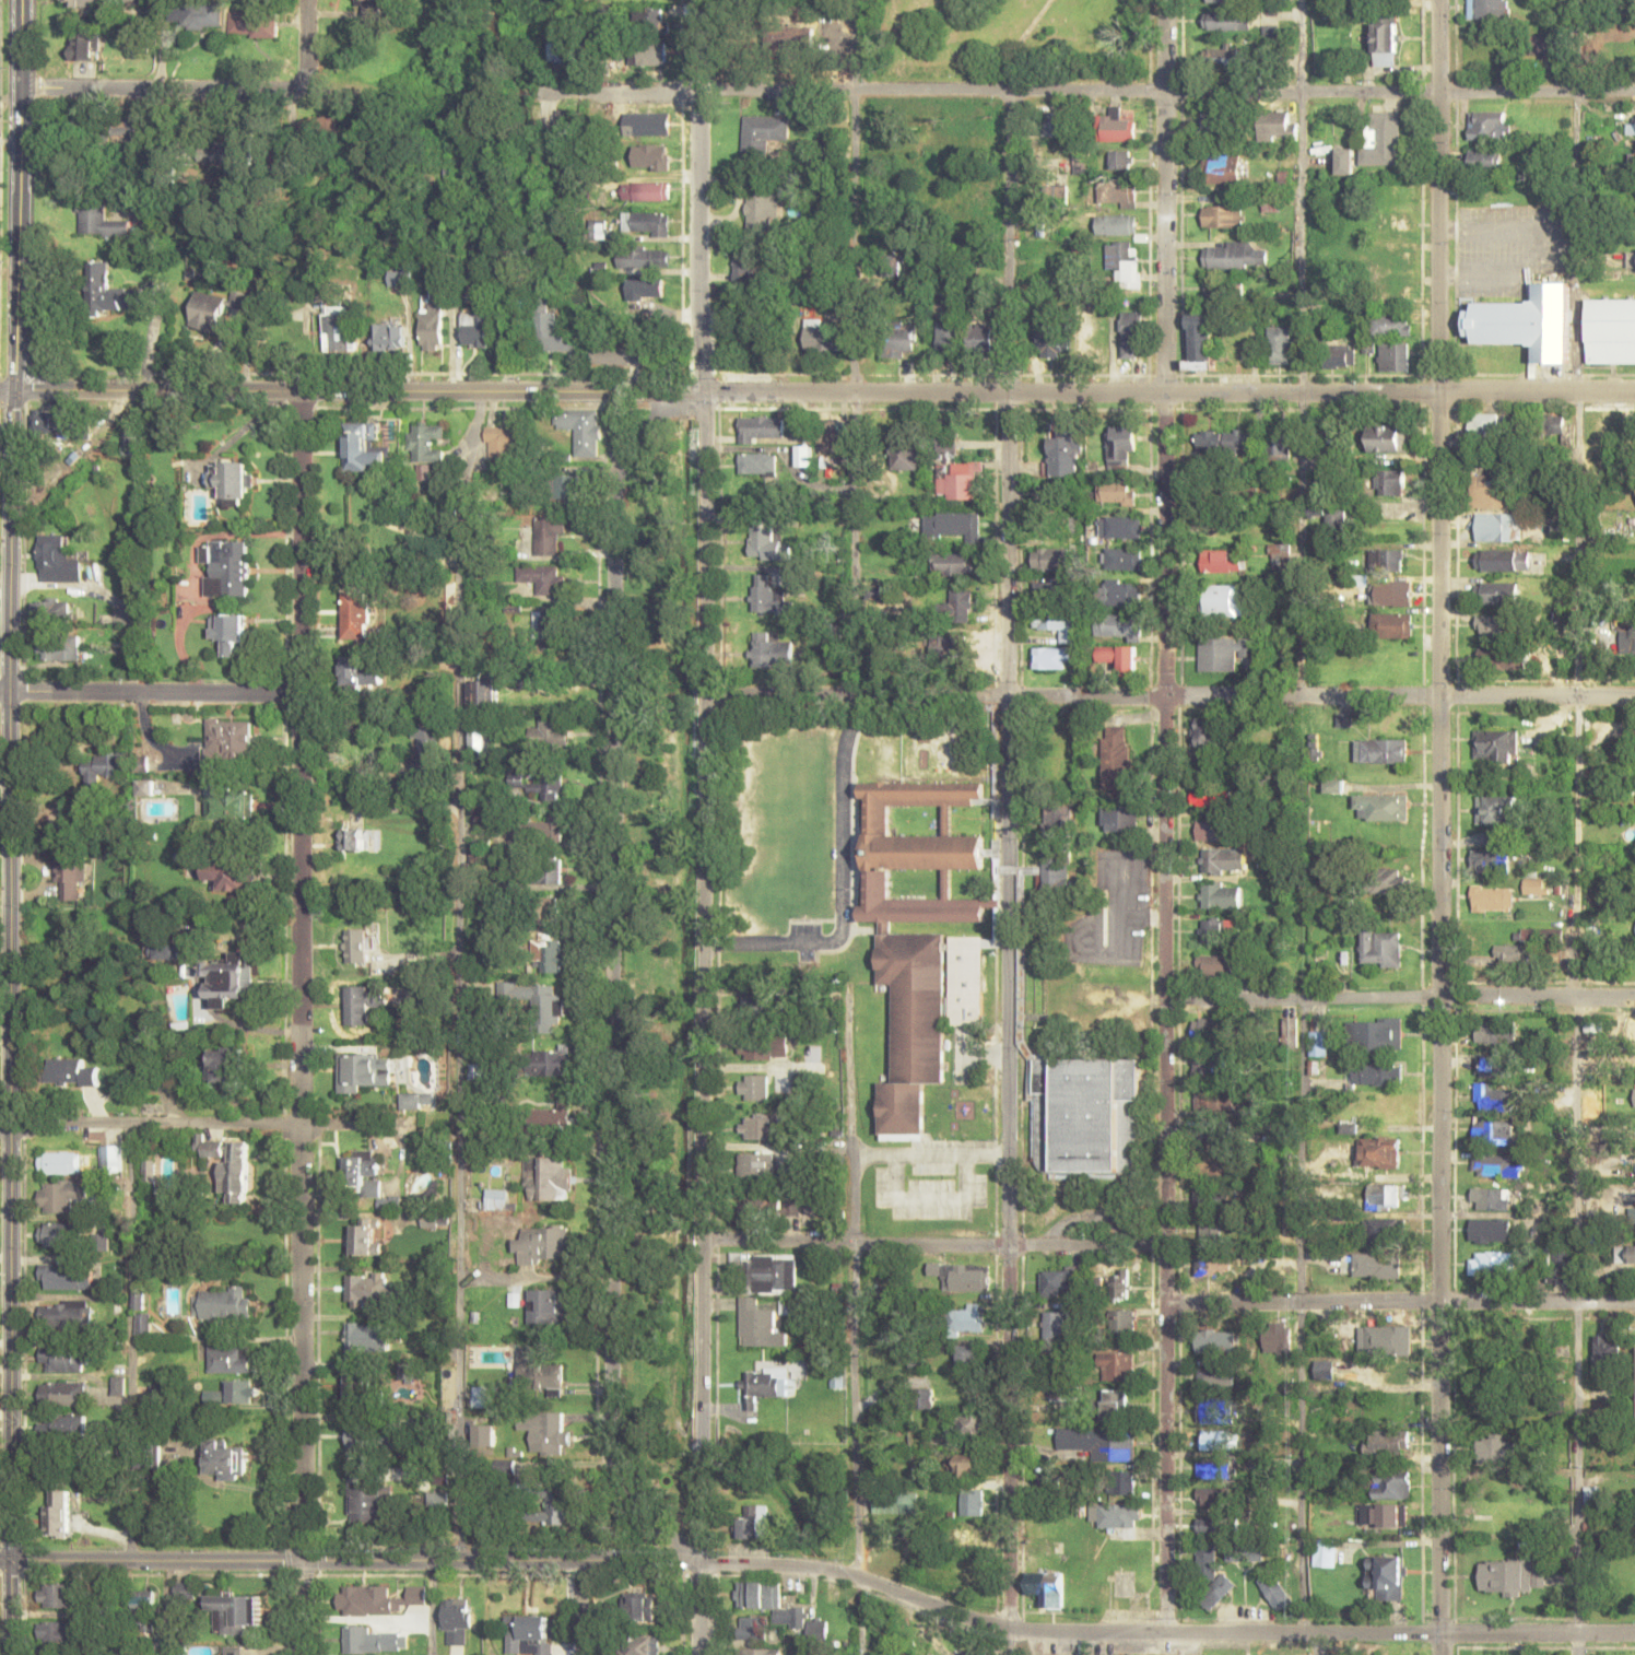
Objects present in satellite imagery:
building: (1225, 0)
building: (72, 2)
building: (379, 7)
building: (1489, 9)
building: (200, 14)
building: (649, 19)
building: (1228, 21)
building: (254, 23)
building: (790, 37)
building: (1385, 40)
road: (307, 42)
building: (1546, 44)
building: (82, 45)
building: (565, 51)
building: (650, 55)
building: (1224, 57)
road: (855, 74)
road: (158, 89)
road: (1084, 93)
building: (647, 124)
building: (1052, 124)
building: (1116, 125)
building: (1219, 125)
building: (1489, 125)
building: (1277, 126)
building: (1631, 129)
building: (129, 133)
building: (332, 133)
building: (762, 133)
building: (566, 137)
building: (1383, 140)
building: (231, 151)
building: (650, 156)
building: (1632, 157)
building: (1344, 160)
building: (1483, 160)
building: (1116, 162)
building: (1223, 167)
building: (377, 173)
building: (645, 190)
building: (1119, 196)
road: (699, 198)
building: (762, 207)
building: (1224, 215)
building: (98, 219)
building: (645, 223)
building: (1393, 223)
building: (1116, 224)
building: (598, 228)
building: (1235, 256)
building: (649, 257)
building: (1122, 260)
building: (1631, 260)
building: (748, 265)
building: (646, 289)
building: (108, 291)
building: (1223, 291)
building: (1398, 291)
building: (207, 310)
building: (432, 321)
building: (1525, 322)
building: (1391, 325)
building: (552, 327)
building: (474, 329)
building: (340, 330)
building: (1611, 330)
building: (1132, 333)
building: (948, 336)
building: (388, 337)
building: (979, 337)
building: (746, 338)
building: (824, 338)
building: (898, 340)
building: (1054, 340)
building: (1199, 341)
building: (1279, 344)
road: (1301, 348)
building: (617, 355)
building: (1337, 355)
building: (1393, 356)
traffic signals: (12, 392)
road: (350, 394)
road: (1166, 394)
building: (48, 423)
building: (1484, 423)
building: (1556, 423)
building: (1628, 425)
building: (580, 429)
building: (761, 431)
building: (1387, 438)
building: (503, 441)
building: (1223, 441)
building: (425, 442)
building: (1278, 444)
building: (1121, 445)
building: (364, 446)
building: (1064, 456)
building: (905, 458)
building: (757, 463)
building: (956, 479)
building: (234, 481)
building: (1486, 481)
building: (1388, 482)
building: (568, 491)
building: (1046, 493)
building: (1118, 494)
building: (1336, 518)
building: (952, 525)
building: (1054, 525)
building: (1494, 525)
building: (1116, 527)
building: (548, 533)
building: (767, 543)
building: (1122, 559)
building: (1386, 559)
building: (57, 560)
building: (1050, 560)
building: (1222, 560)
building: (1497, 562)
building: (951, 563)
building: (226, 567)
building: (542, 577)
building: (1051, 588)
building: (1391, 592)
building: (1496, 592)
building: (1117, 594)
building: (767, 596)
building: (1222, 600)
building: (961, 606)
building: (50, 611)
building: (356, 614)
building: (1057, 624)
building: (1391, 624)
building: (1494, 625)
building: (1117, 626)
building: (553, 629)
building: (230, 632)
building: (1627, 643)
building: (953, 646)
building: (60, 649)
building: (769, 650)
building: (1224, 653)
building: (1118, 655)
building: (1050, 657)
building: (1502, 657)
building: (361, 671)
building: (481, 691)
road: (3, 693)
road: (154, 694)
road: (1168, 697)
building: (357, 717)
building: (1210, 731)
building: (546, 732)
building: (475, 739)
building: (227, 741)
building: (1495, 746)
building: (425, 747)
building: (1381, 750)
building: (1117, 756)
building: (99, 766)
building: (533, 783)
building: (1211, 796)
building: (228, 802)
building: (1380, 807)
building: (1495, 810)
road: (1164, 815)
road: (1438, 815)
building: (1119, 818)
building: (1056, 822)
building: (530, 825)
road: (8, 826)
road: (1576, 826)
building: (1216, 830)
building: (355, 838)
building: (1223, 859)
building: (1490, 859)
building: (545, 870)
road: (1007, 873)
building: (1057, 873)
building: (68, 875)
building: (228, 875)
building: (1106, 877)
building: (1392, 879)
building: (1536, 885)
building: (1222, 895)
building: (1491, 899)
building: (546, 911)
building: (1218, 930)
building: (921, 935)
building: (1543, 935)
building: (1094, 938)
building: (1116, 938)
building: (356, 944)
building: (1381, 948)
building: (164, 951)
building: (1510, 953)
building: (549, 956)
building: (1215, 964)
park: (658, 969)
road: (611, 972)
road: (457, 977)
building: (62, 978)
building: (231, 978)
road: (1399, 997)
building: (537, 1001)
building: (363, 1002)
building: (758, 1007)
road: (846, 1023)
road: (299, 1024)
road: (702, 1025)
building: (1213, 1030)
building: (1494, 1031)
building: (1289, 1032)
building: (1375, 1034)
building: (1318, 1042)
building: (763, 1046)
building: (550, 1063)
building: (226, 1065)
building: (1492, 1066)
building: (1212, 1067)
building: (363, 1071)
building: (68, 1072)
building: (1374, 1073)
building: (753, 1087)
building: (1491, 1096)
building: (1634, 1098)
building: (1215, 1100)
building: (1080, 1113)
building: (551, 1114)
road: (149, 1124)
road: (378, 1125)
building: (758, 1127)
building: (1492, 1132)
building: (1219, 1135)
building: (212, 1148)
building: (1383, 1152)
building: (111, 1157)
building: (61, 1162)
building: (755, 1163)
building: (1492, 1165)
building: (235, 1167)
building: (1215, 1167)
building: (526, 1172)
building: (554, 1177)
building: (368, 1178)
building: (62, 1195)
building: (1391, 1196)
building: (1213, 1198)
building: (1490, 1199)
building: (769, 1207)
building: (1634, 1218)
building: (1208, 1230)
building: (1385, 1230)
building: (1490, 1230)
building: (60, 1234)
building: (365, 1236)
building: (99, 1240)
road: (932, 1244)
building: (542, 1245)
building: (1626, 1253)
building: (1487, 1263)
building: (1213, 1266)
building: (1371, 1266)
building: (1560, 1266)
building: (66, 1276)
building: (962, 1276)
building: (1057, 1281)
building: (1119, 1287)
building: (367, 1289)
road: (1400, 1301)
building: (226, 1304)
building: (545, 1306)
building: (64, 1314)
road: (1299, 1315)
building: (963, 1319)
building: (1124, 1321)
building: (143, 1323)
building: (1055, 1325)
building: (367, 1337)
building: (1278, 1338)
building: (1210, 1341)
building: (1375, 1342)
road: (130, 1343)
building: (1608, 1348)
building: (968, 1355)
building: (61, 1359)
building: (231, 1359)
building: (1117, 1365)
building: (539, 1373)
building: (1212, 1374)
building: (118, 1385)
building: (763, 1385)
building: (1066, 1385)
building: (358, 1387)
building: (235, 1392)
building: (62, 1393)
building: (482, 1396)
building: (922, 1398)
building: (1115, 1400)
building: (969, 1424)
building: (62, 1425)
building: (1214, 1425)
building: (546, 1432)
building: (484, 1435)
building: (375, 1436)
building: (1099, 1442)
building: (1388, 1442)
building: (1492, 1447)
building: (225, 1459)
building: (966, 1465)
building: (1214, 1468)
building: (909, 1469)
building: (513, 1472)
fountain: (664, 1479)
building: (1122, 1482)
building: (1391, 1484)
building: (1211, 1496)
building: (894, 1502)
building: (972, 1502)
building: (368, 1503)
building: (552, 1509)
building: (57, 1513)
building: (1380, 1514)
building: (1119, 1519)
building: (754, 1522)
building: (1213, 1525)
building: (968, 1534)
building: (1244, 1552)
building: (1326, 1552)
building: (1204, 1560)
traffic signals: (11, 1561)
road: (151, 1562)
building: (1509, 1575)
building: (1387, 1576)
building: (1046, 1588)
building: (185, 1591)
building: (1273, 1591)
building: (55, 1595)
building: (377, 1599)
building: (768, 1601)
building: (144, 1607)
building: (640, 1607)
road: (167, 1608)
road: (433, 1608)
building: (235, 1611)
building: (457, 1612)
road: (966, 1616)
building: (751, 1628)
building: (816, 1628)
building: (54, 1634)
building: (529, 1634)
building: (358, 1639)
building: (639, 1644)
road: (1440, 1644)
building: (760, 1651)

